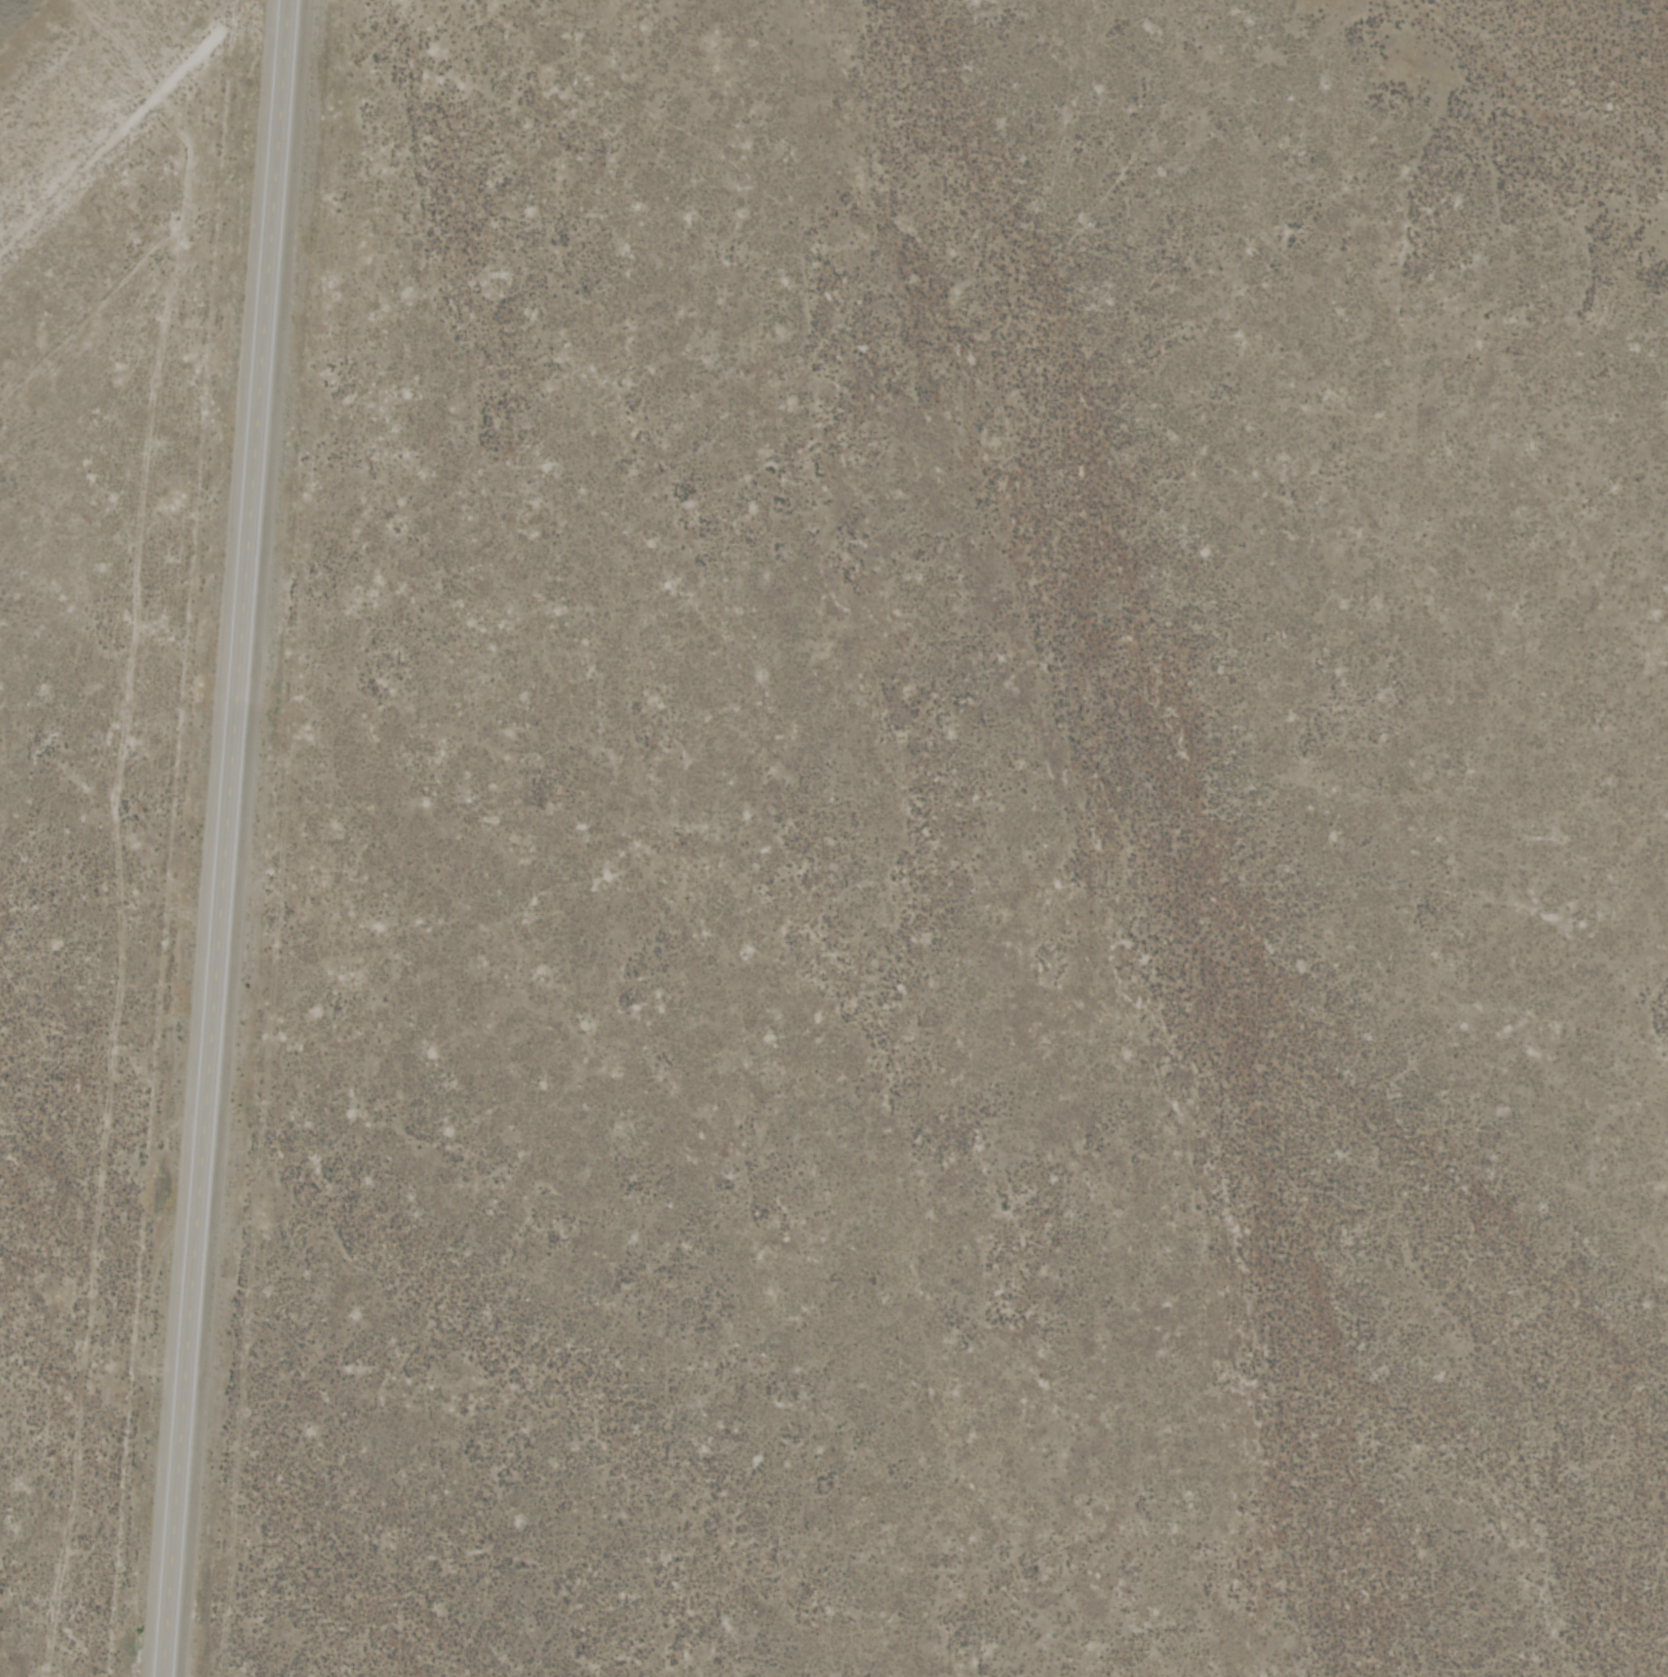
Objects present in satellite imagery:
road: (222, 838)

